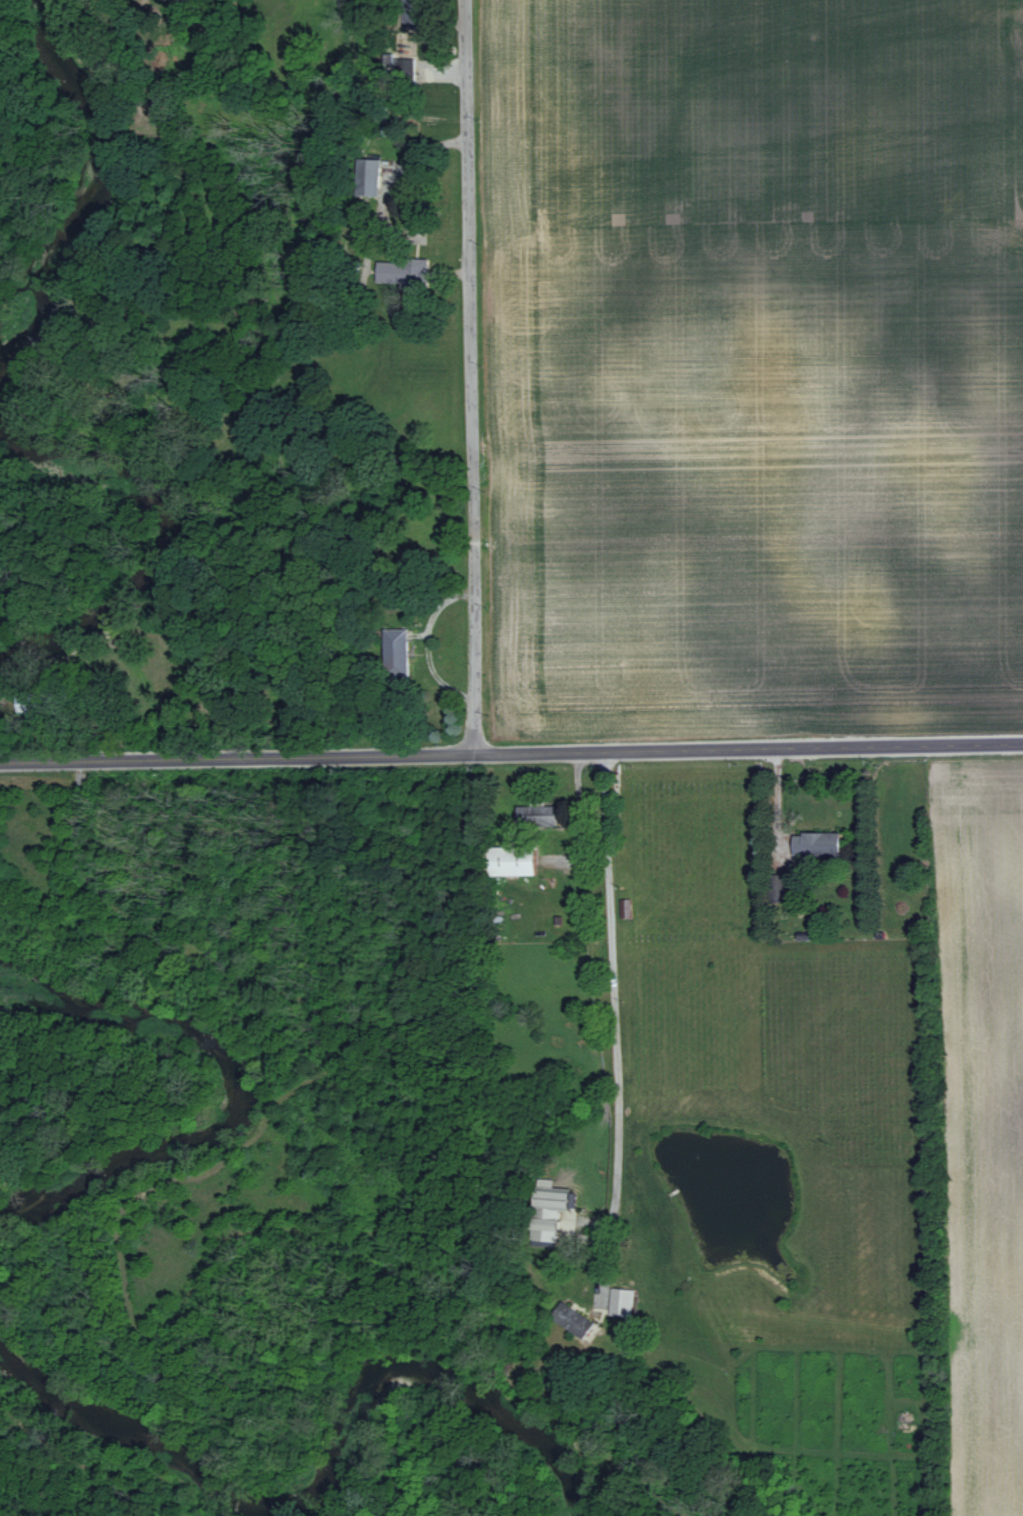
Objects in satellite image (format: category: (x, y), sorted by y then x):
building: (408, 67)
building: (373, 177)
road: (468, 381)
building: (398, 651)
road: (511, 762)
building: (540, 814)
road: (578, 820)
building: (821, 844)
building: (516, 860)
road: (611, 988)
building: (622, 1301)
building: (578, 1321)

